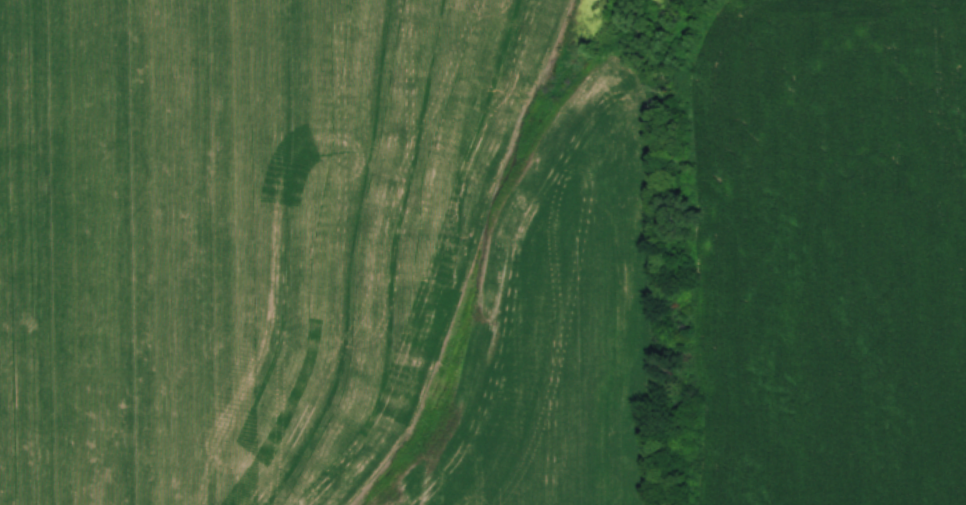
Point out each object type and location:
crop: (835, 255)

